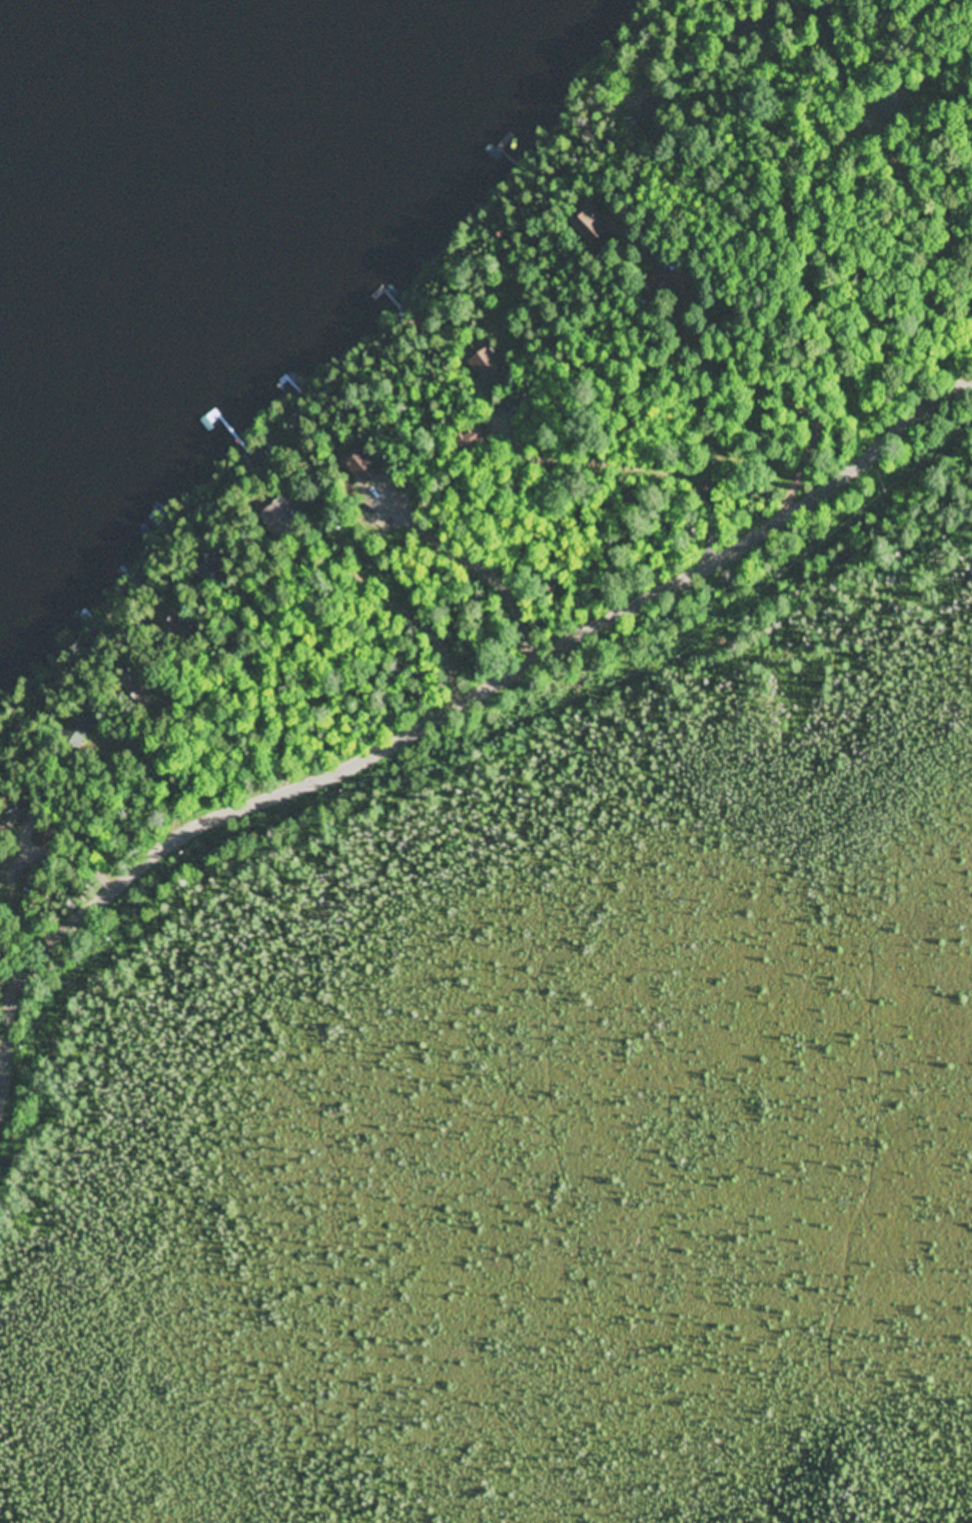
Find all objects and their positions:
road: (435, 714)
building: (74, 736)

